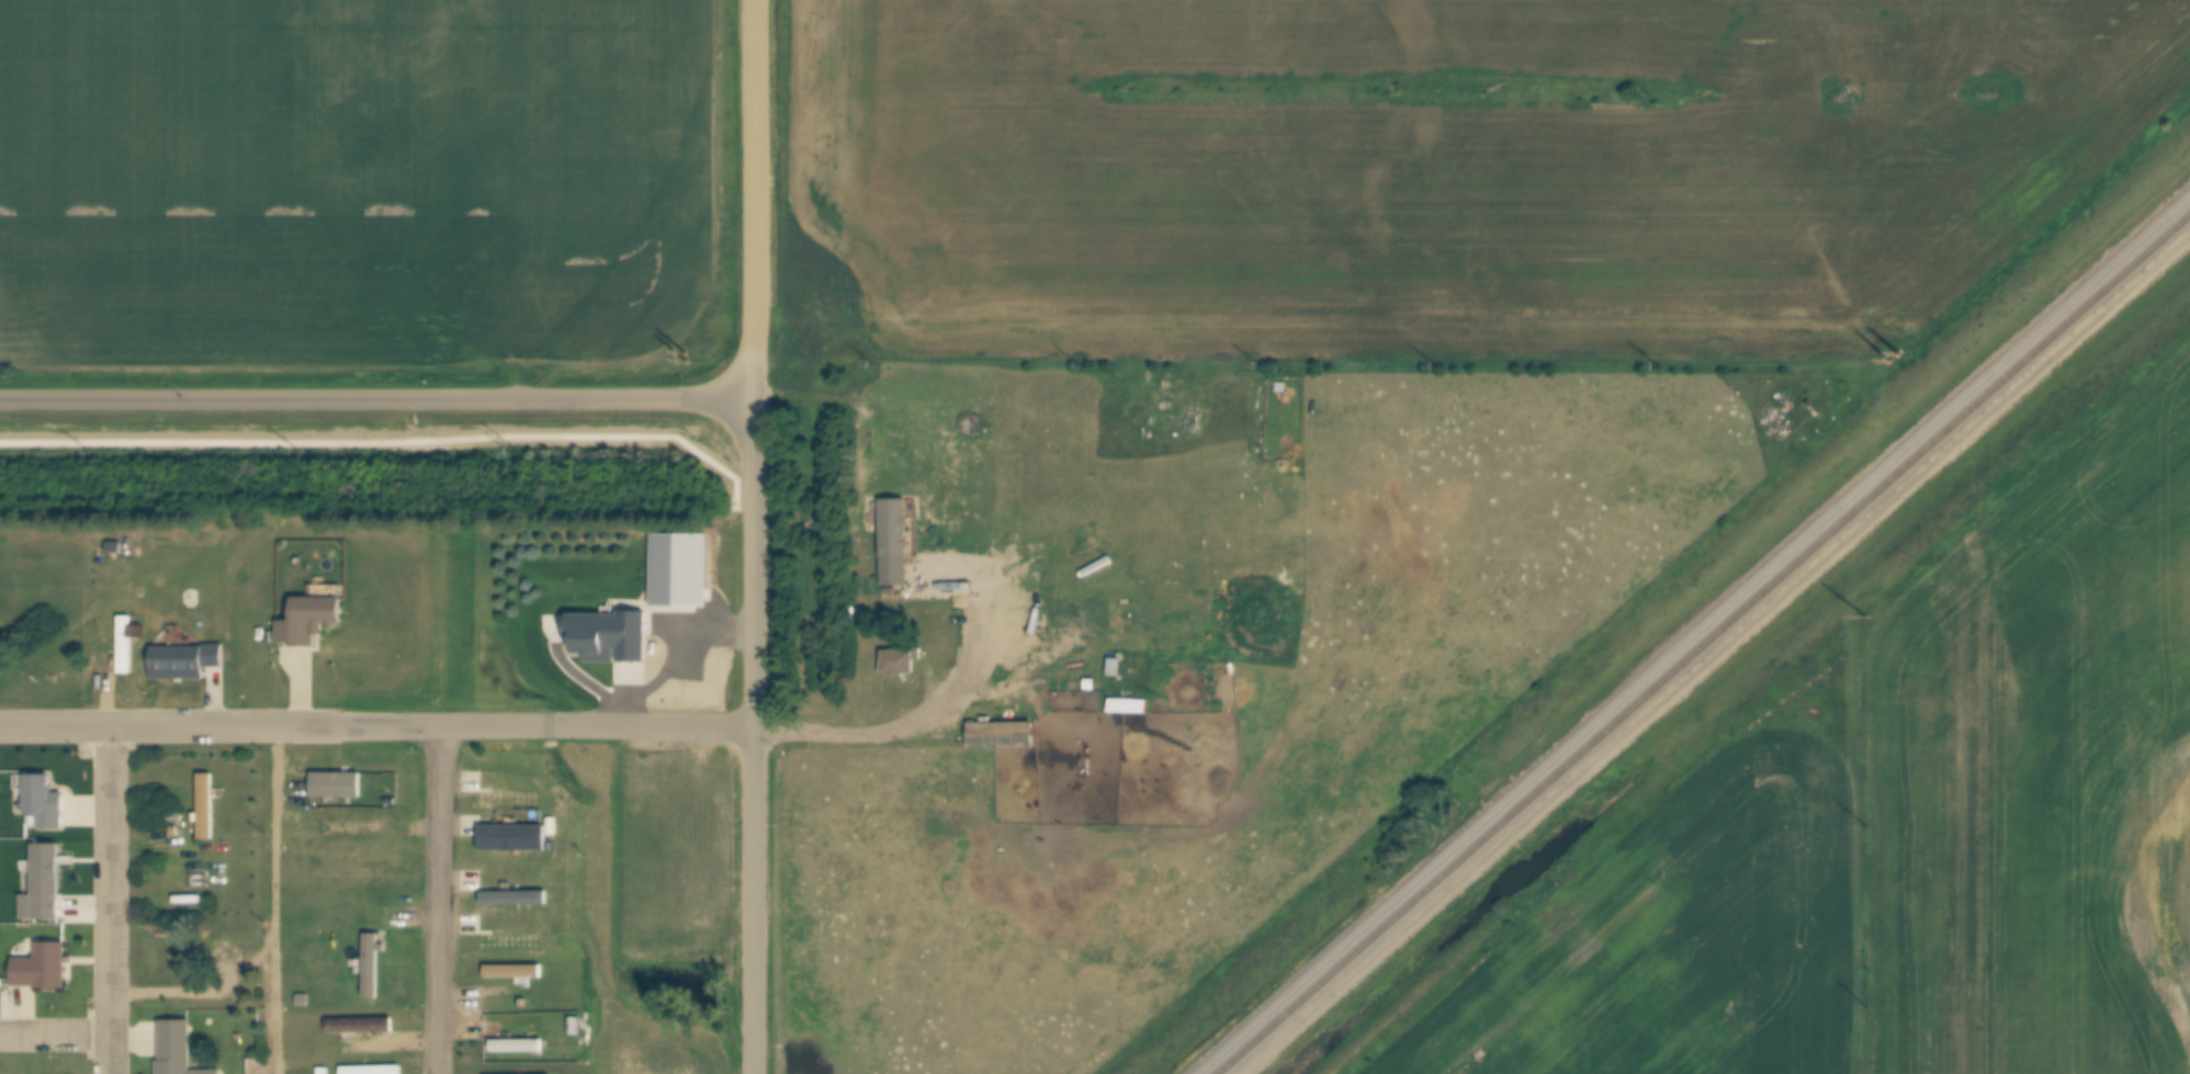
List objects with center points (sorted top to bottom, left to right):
road: (755, 199)
road: (377, 400)
building: (898, 545)
building: (117, 547)
building: (682, 570)
building: (983, 583)
building: (315, 620)
railway: (1696, 637)
building: (612, 638)
building: (129, 643)
railway: (1705, 645)
building: (189, 662)
building: (900, 666)
building: (1117, 669)
building: (1131, 710)
road: (377, 726)
building: (504, 734)
road: (756, 735)
building: (1004, 738)
road: (870, 739)
building: (338, 784)
building: (392, 800)
building: (509, 800)
building: (46, 804)
building: (210, 805)
building: (352, 827)
building: (512, 836)
building: (45, 889)
building: (515, 895)
road: (113, 900)
road: (275, 900)
road: (439, 901)
building: (184, 956)
building: (375, 966)
building: (45, 969)
building: (516, 972)
building: (306, 1000)
building: (362, 1027)
building: (577, 1027)
road: (56, 1038)
building: (519, 1048)
building: (180, 1049)
building: (326, 1071)
building: (373, 1071)

